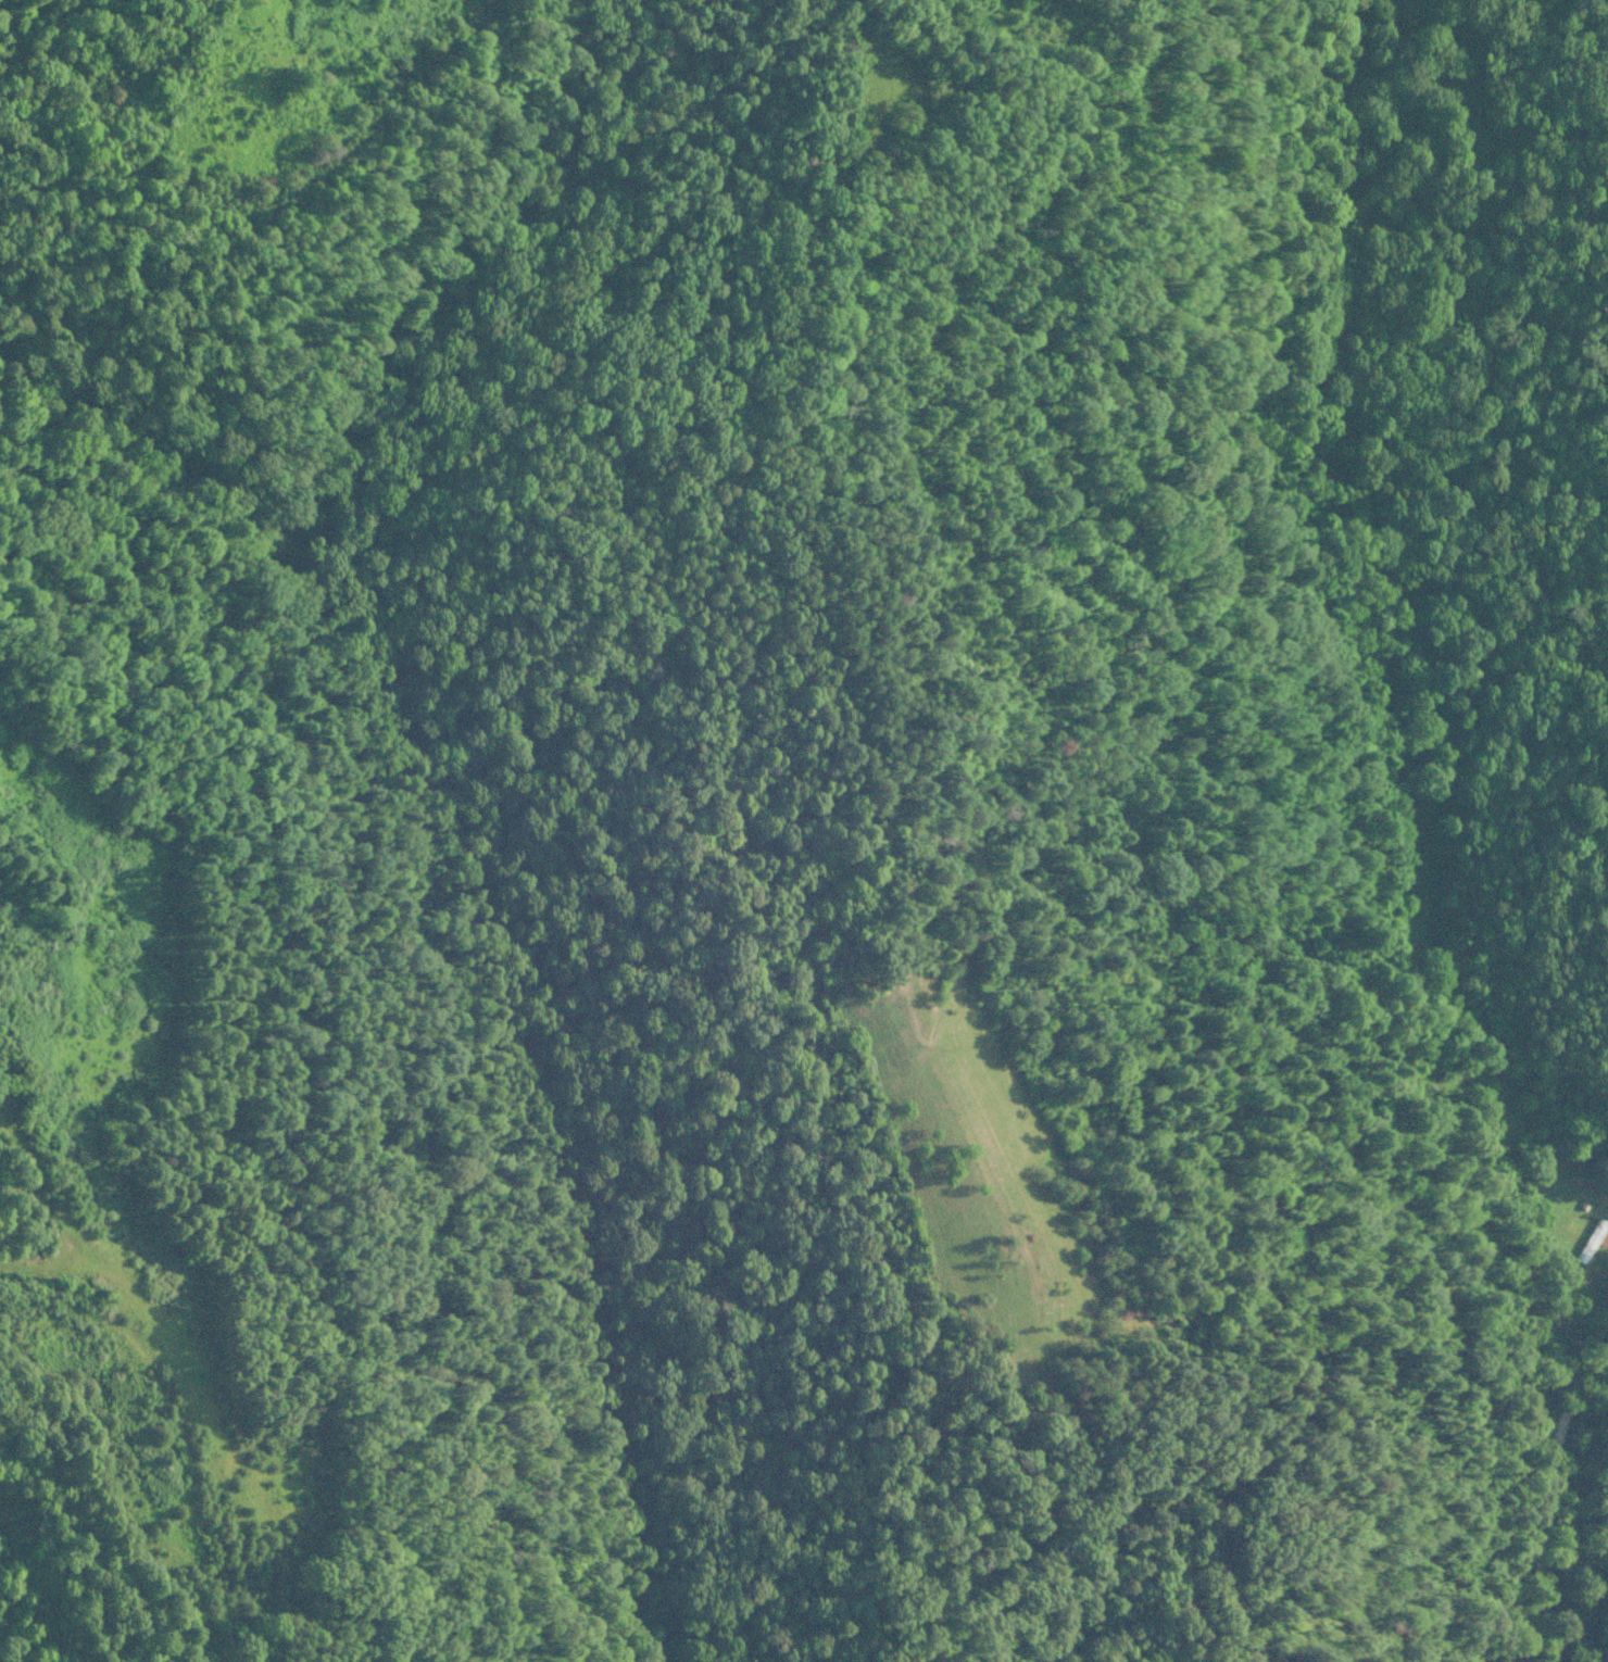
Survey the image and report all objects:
building: (1594, 1238)
road: (1573, 1589)

